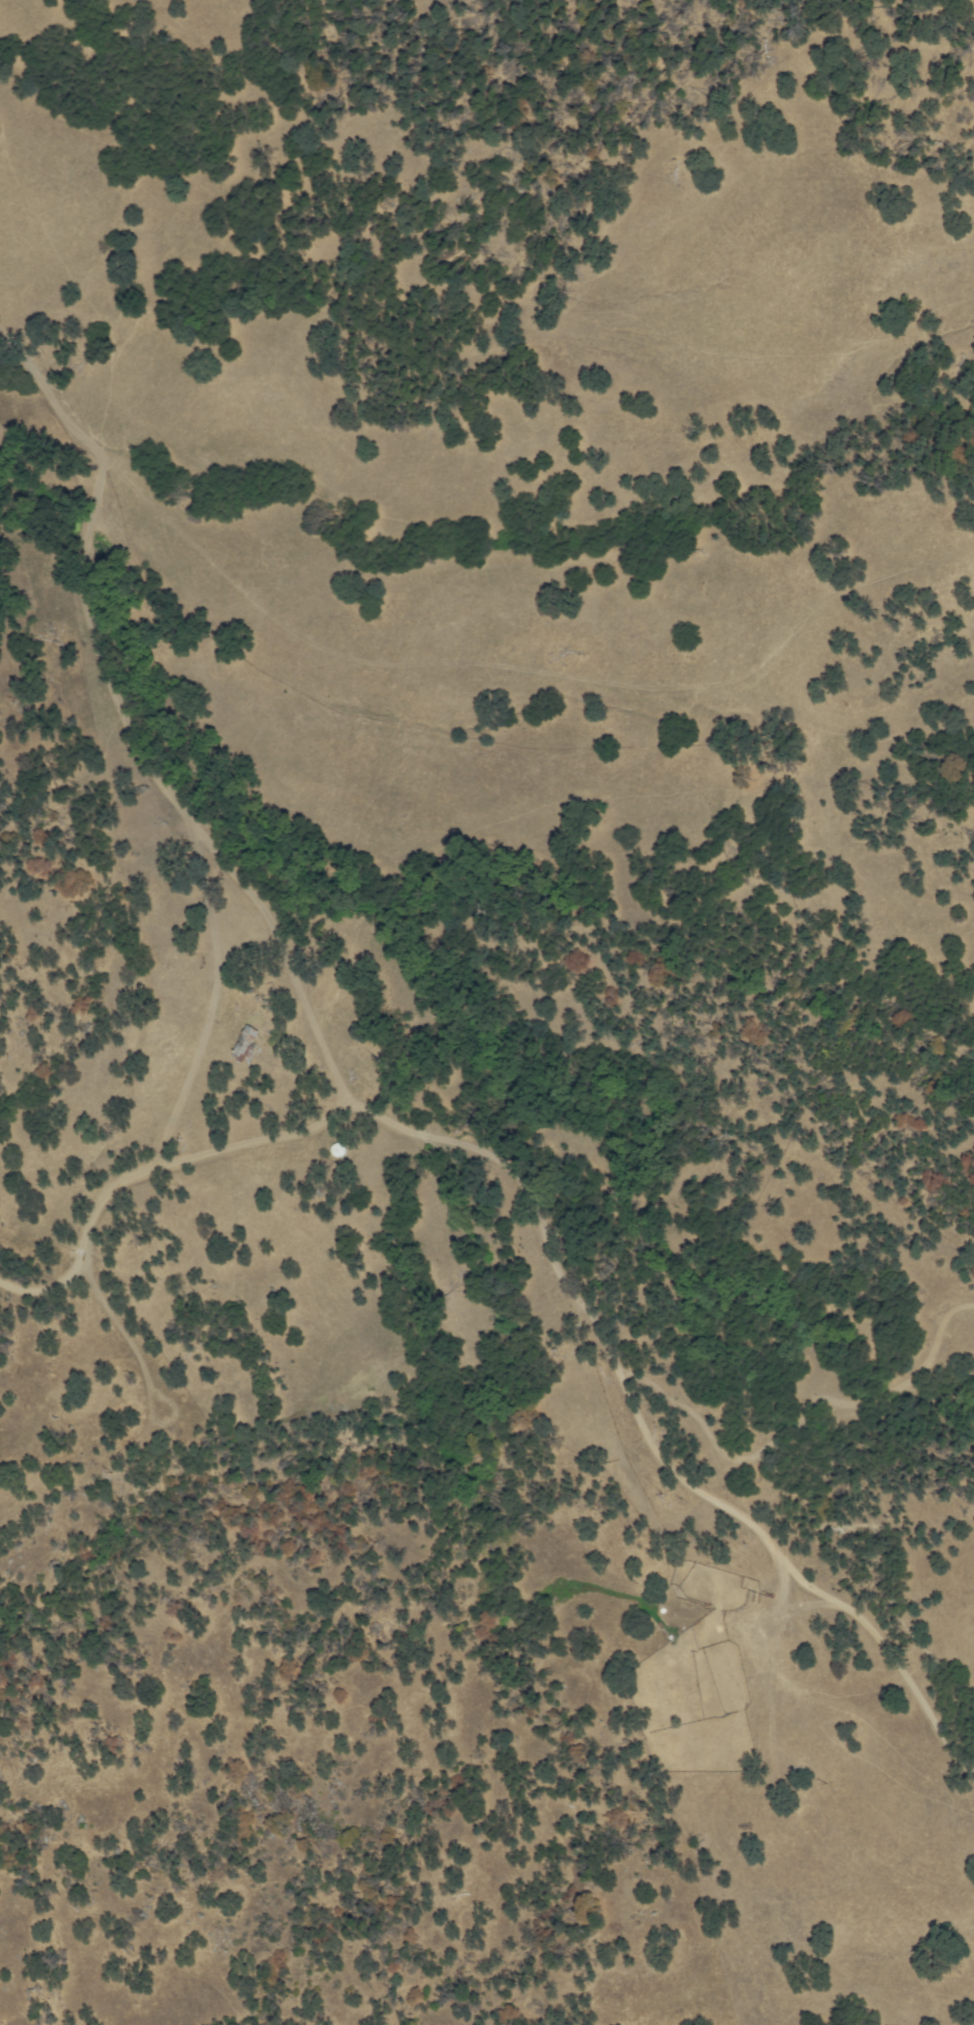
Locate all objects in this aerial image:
building: (241, 1043)
road: (267, 1145)
road: (89, 1251)

